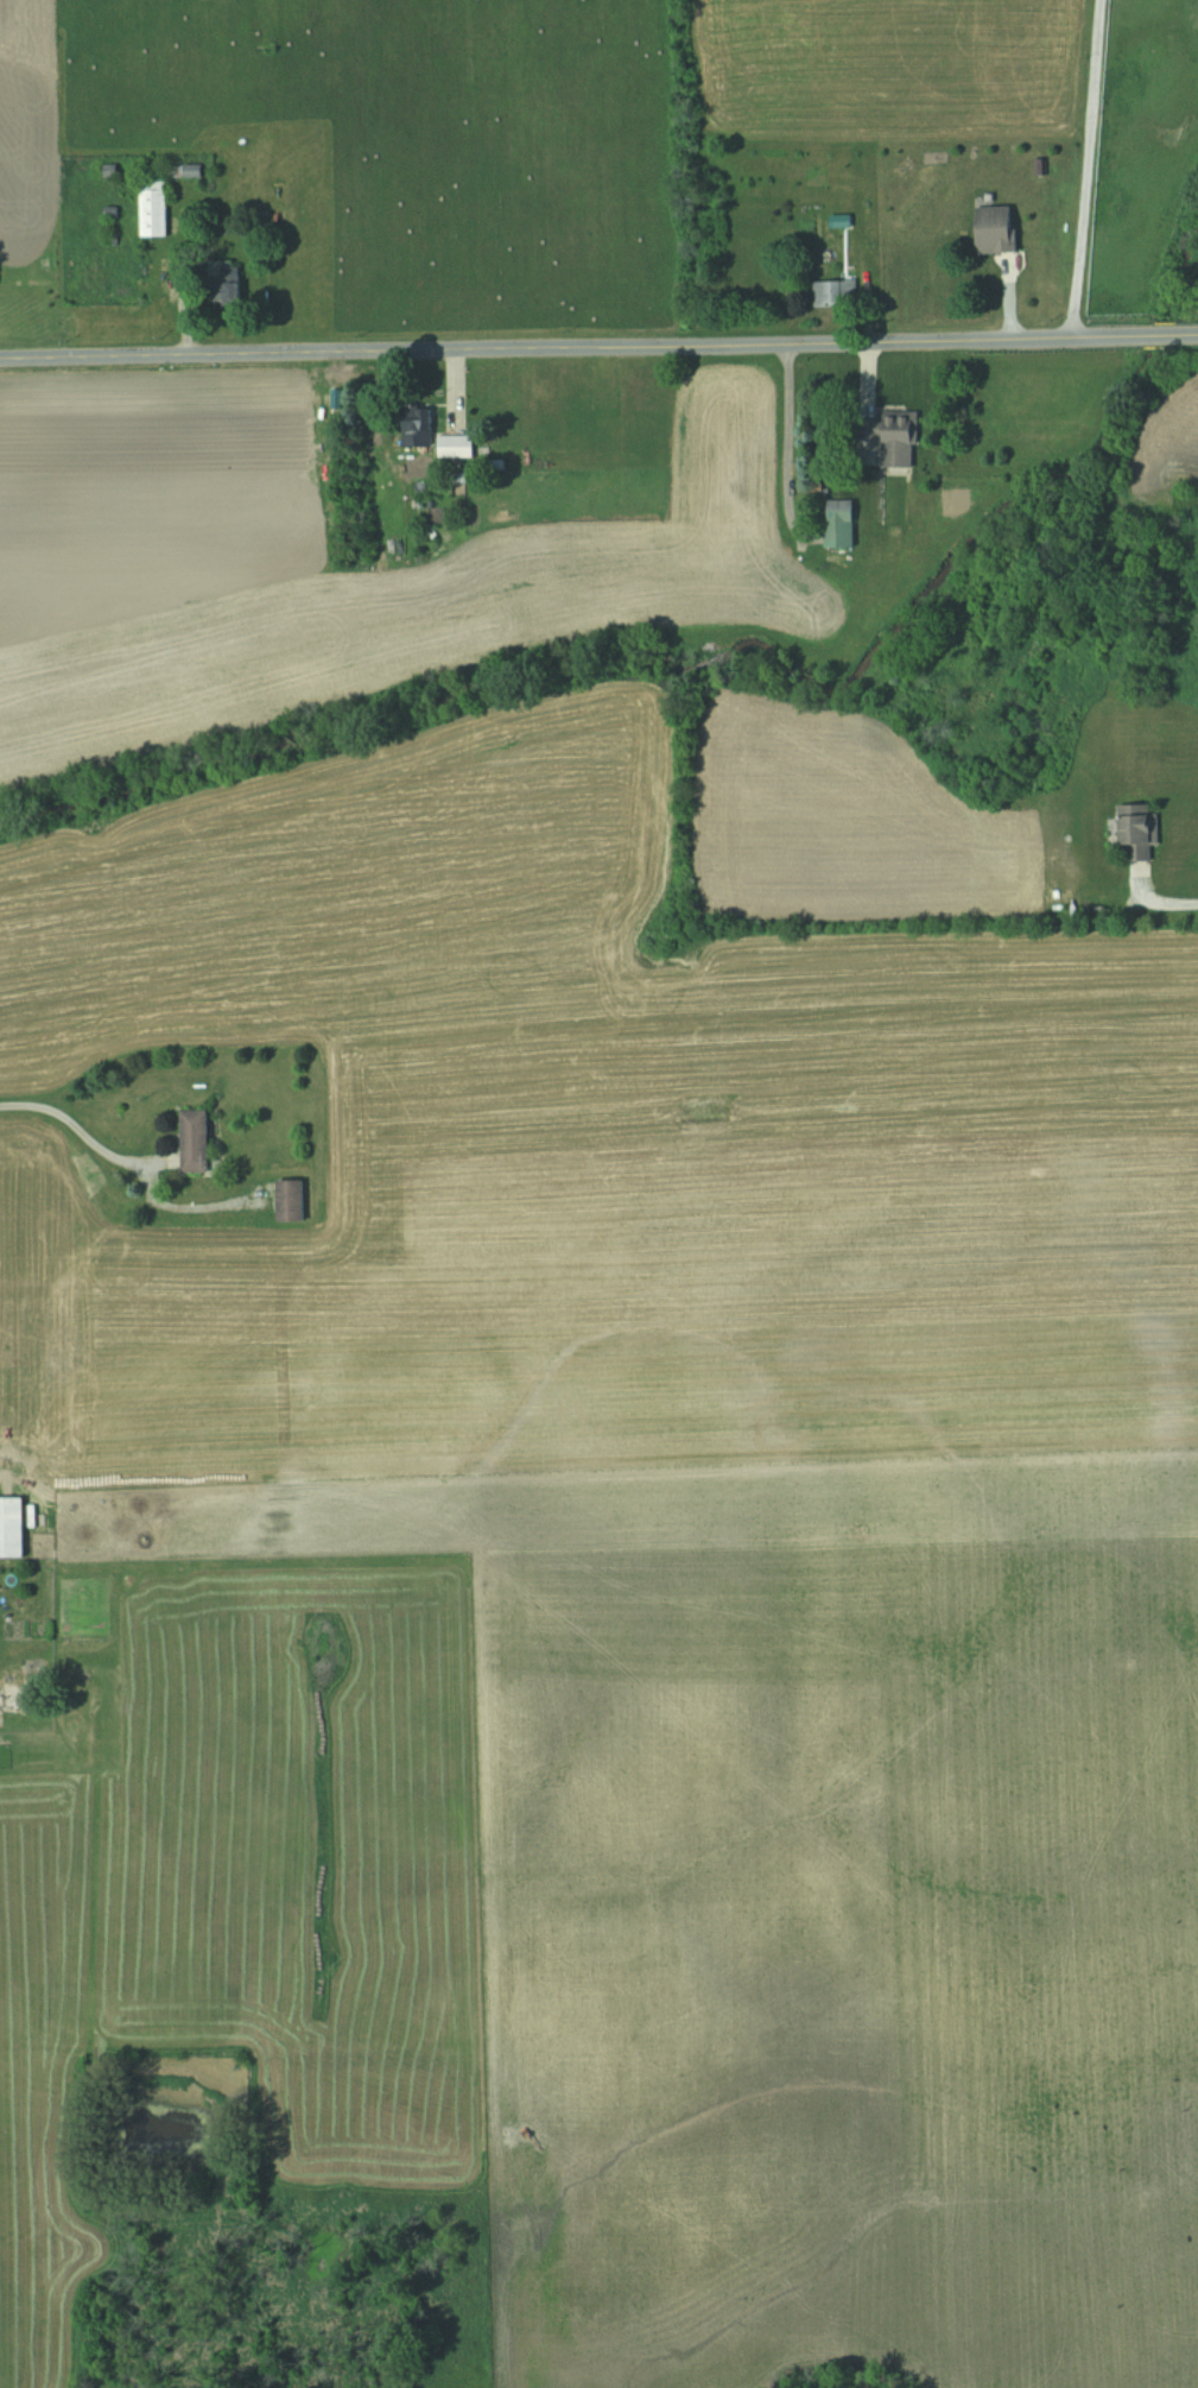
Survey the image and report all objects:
road: (1088, 169)
building: (153, 207)
building: (996, 229)
building: (224, 284)
building: (835, 292)
road: (598, 347)
building: (418, 427)
building: (894, 437)
building: (456, 447)
road: (787, 447)
building: (841, 524)
building: (1139, 838)
road: (1179, 901)
building: (195, 1139)
road: (83, 1151)
building: (291, 1200)
building: (12, 1527)

